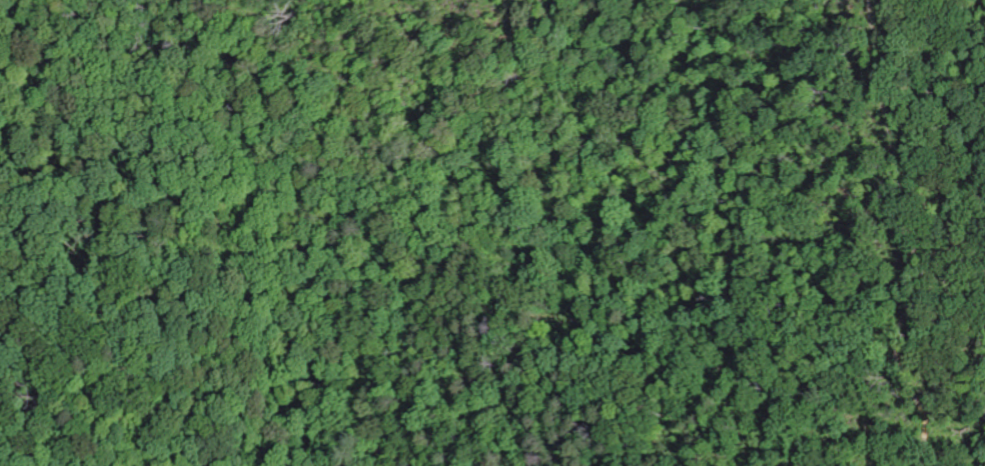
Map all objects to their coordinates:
road: (868, 229)

